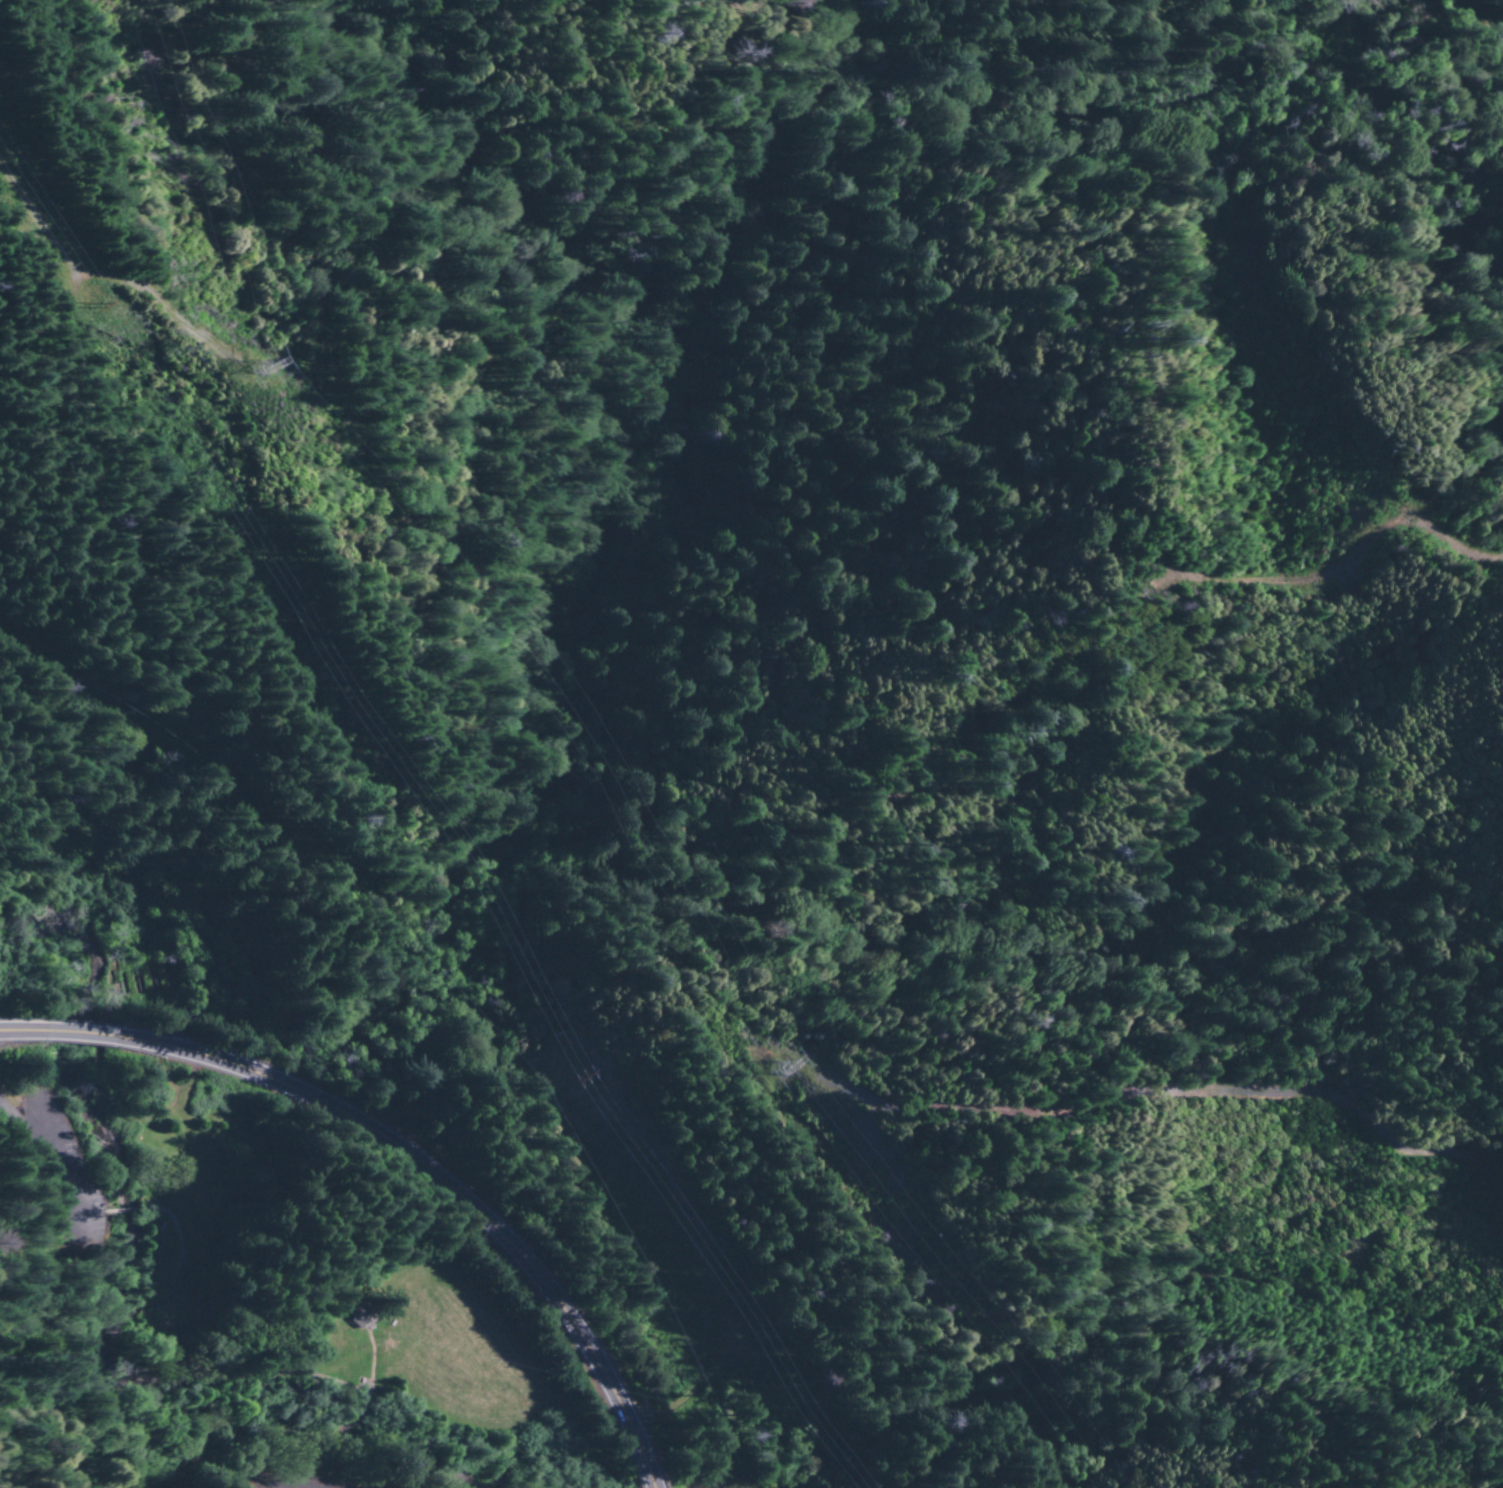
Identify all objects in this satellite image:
power tower: (265, 371)
power tower: (795, 1067)
road: (399, 1154)
road: (124, 1203)
building: (354, 1319)
road: (110, 1320)
road: (188, 1352)
road: (360, 1359)
road: (359, 1415)
road: (221, 1457)
road: (351, 1461)

